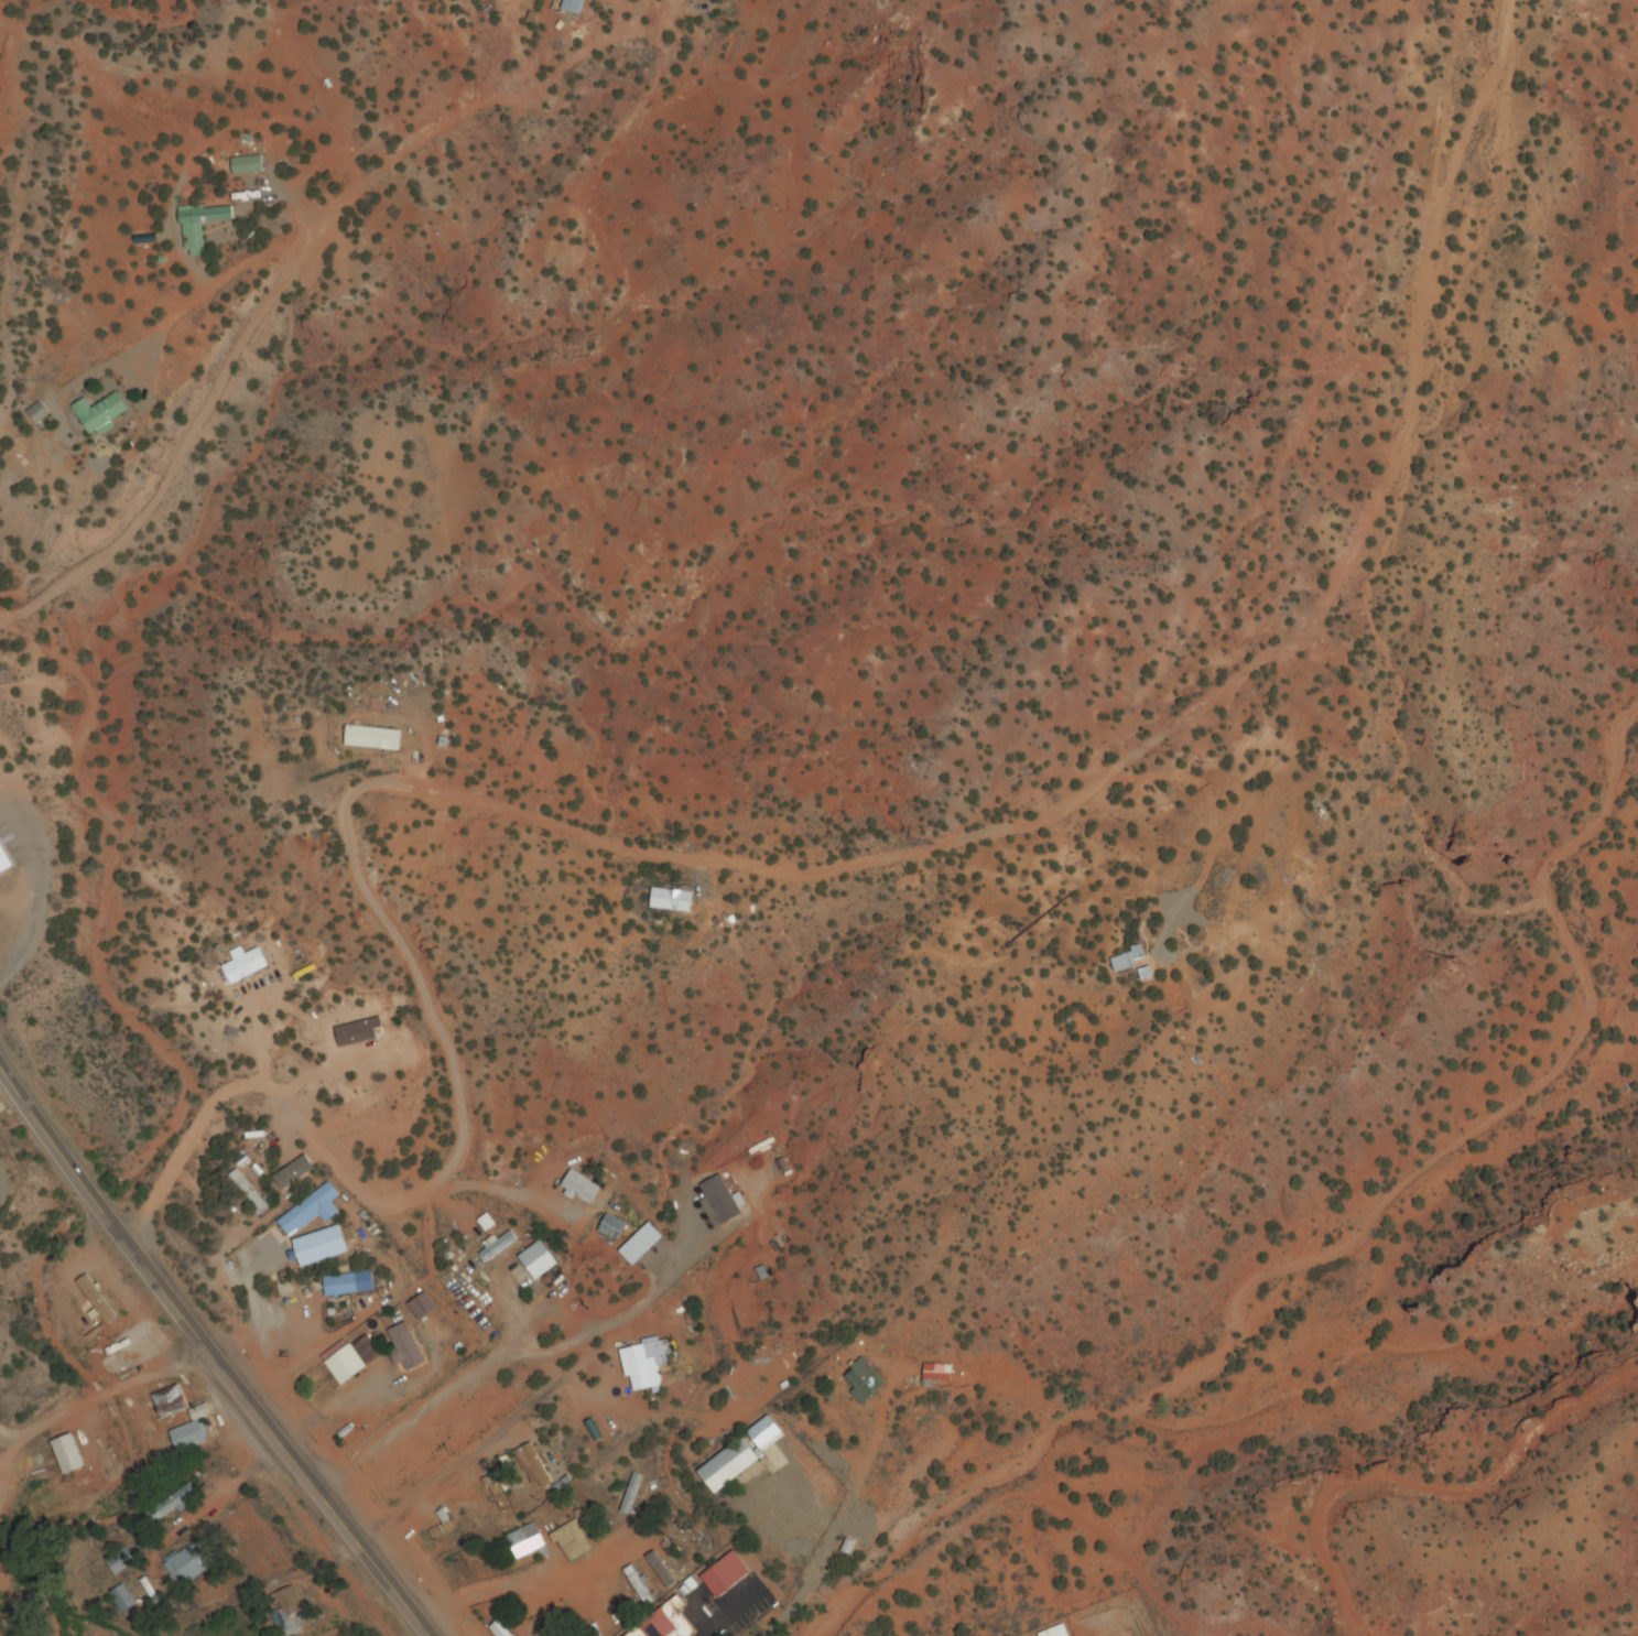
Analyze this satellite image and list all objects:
building: (574, 6)
building: (247, 166)
building: (202, 227)
road: (291, 269)
building: (99, 414)
building: (36, 416)
building: (372, 738)
building: (3, 865)
road: (745, 869)
building: (673, 899)
building: (1125, 964)
building: (242, 966)
building: (1147, 975)
building: (294, 1173)
building: (578, 1188)
building: (311, 1211)
building: (610, 1228)
building: (321, 1247)
building: (497, 1247)
building: (538, 1260)
building: (340, 1286)
building: (93, 1302)
building: (422, 1308)
building: (405, 1348)
road: (208, 1354)
building: (644, 1365)
building: (935, 1374)
building: (863, 1382)
road: (105, 1399)
building: (484, 1416)
building: (184, 1427)
road: (1008, 1460)
building: (729, 1465)
building: (532, 1466)
building: (508, 1471)
building: (173, 1504)
building: (525, 1541)
building: (572, 1541)
building: (120, 1561)
building: (187, 1564)
building: (659, 1570)
building: (725, 1574)
building: (638, 1585)
building: (121, 1600)
building: (290, 1612)
building: (665, 1623)
building: (500, 1629)
building: (343, 1630)

